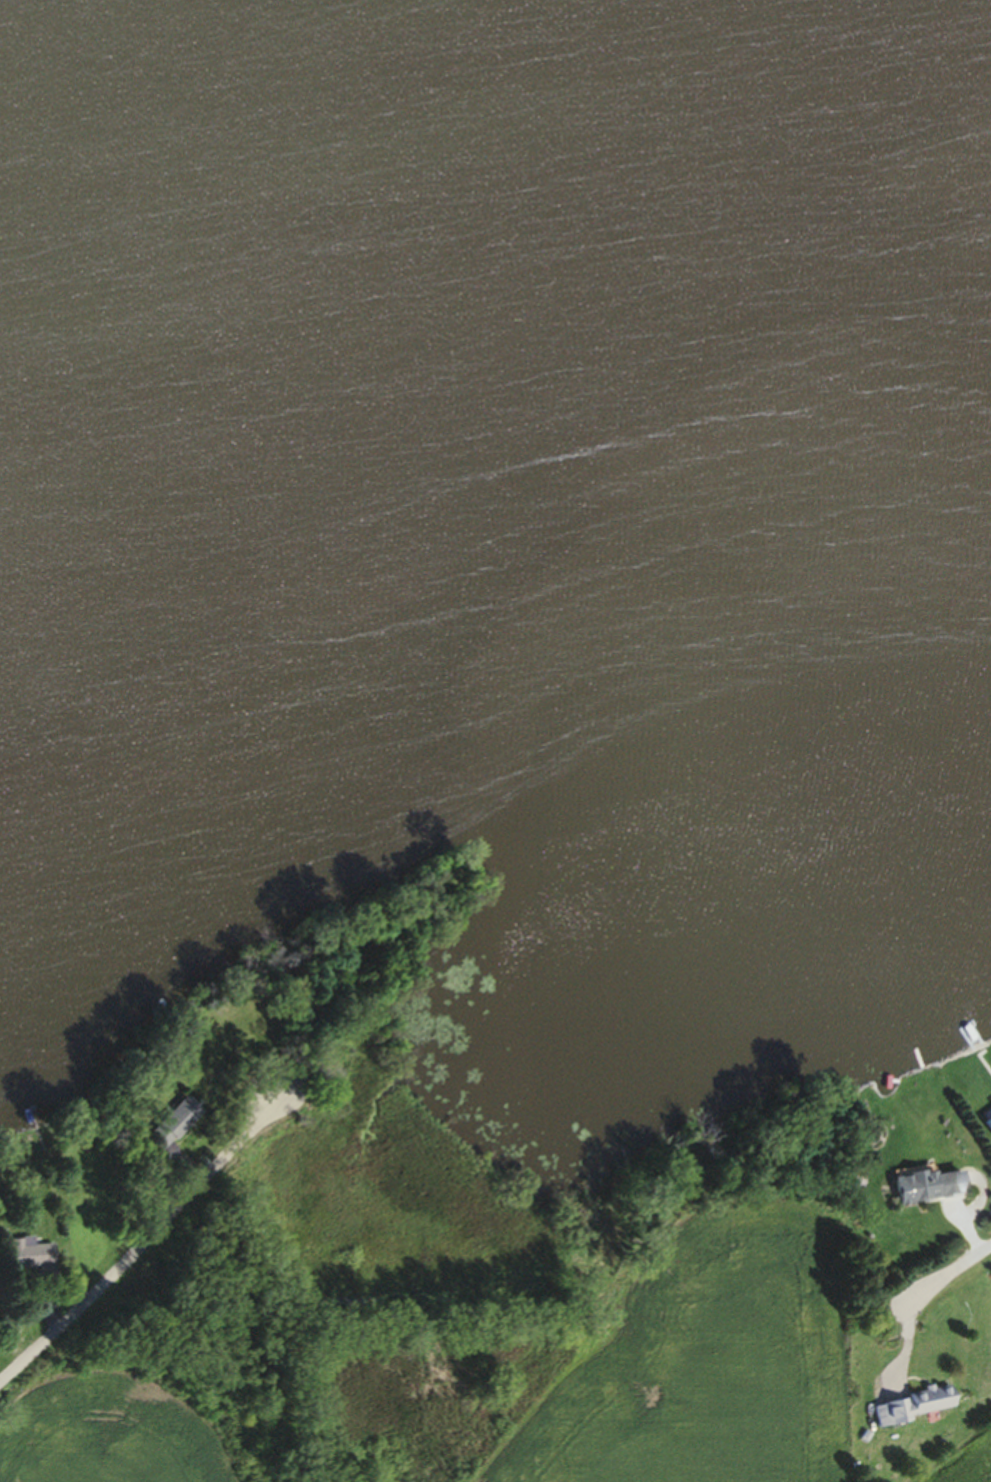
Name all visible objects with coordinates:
building: (987, 1126)
building: (166, 1128)
building: (848, 1181)
building: (927, 1190)
road: (144, 1243)
building: (21, 1259)
road: (952, 1273)
building: (909, 1409)

